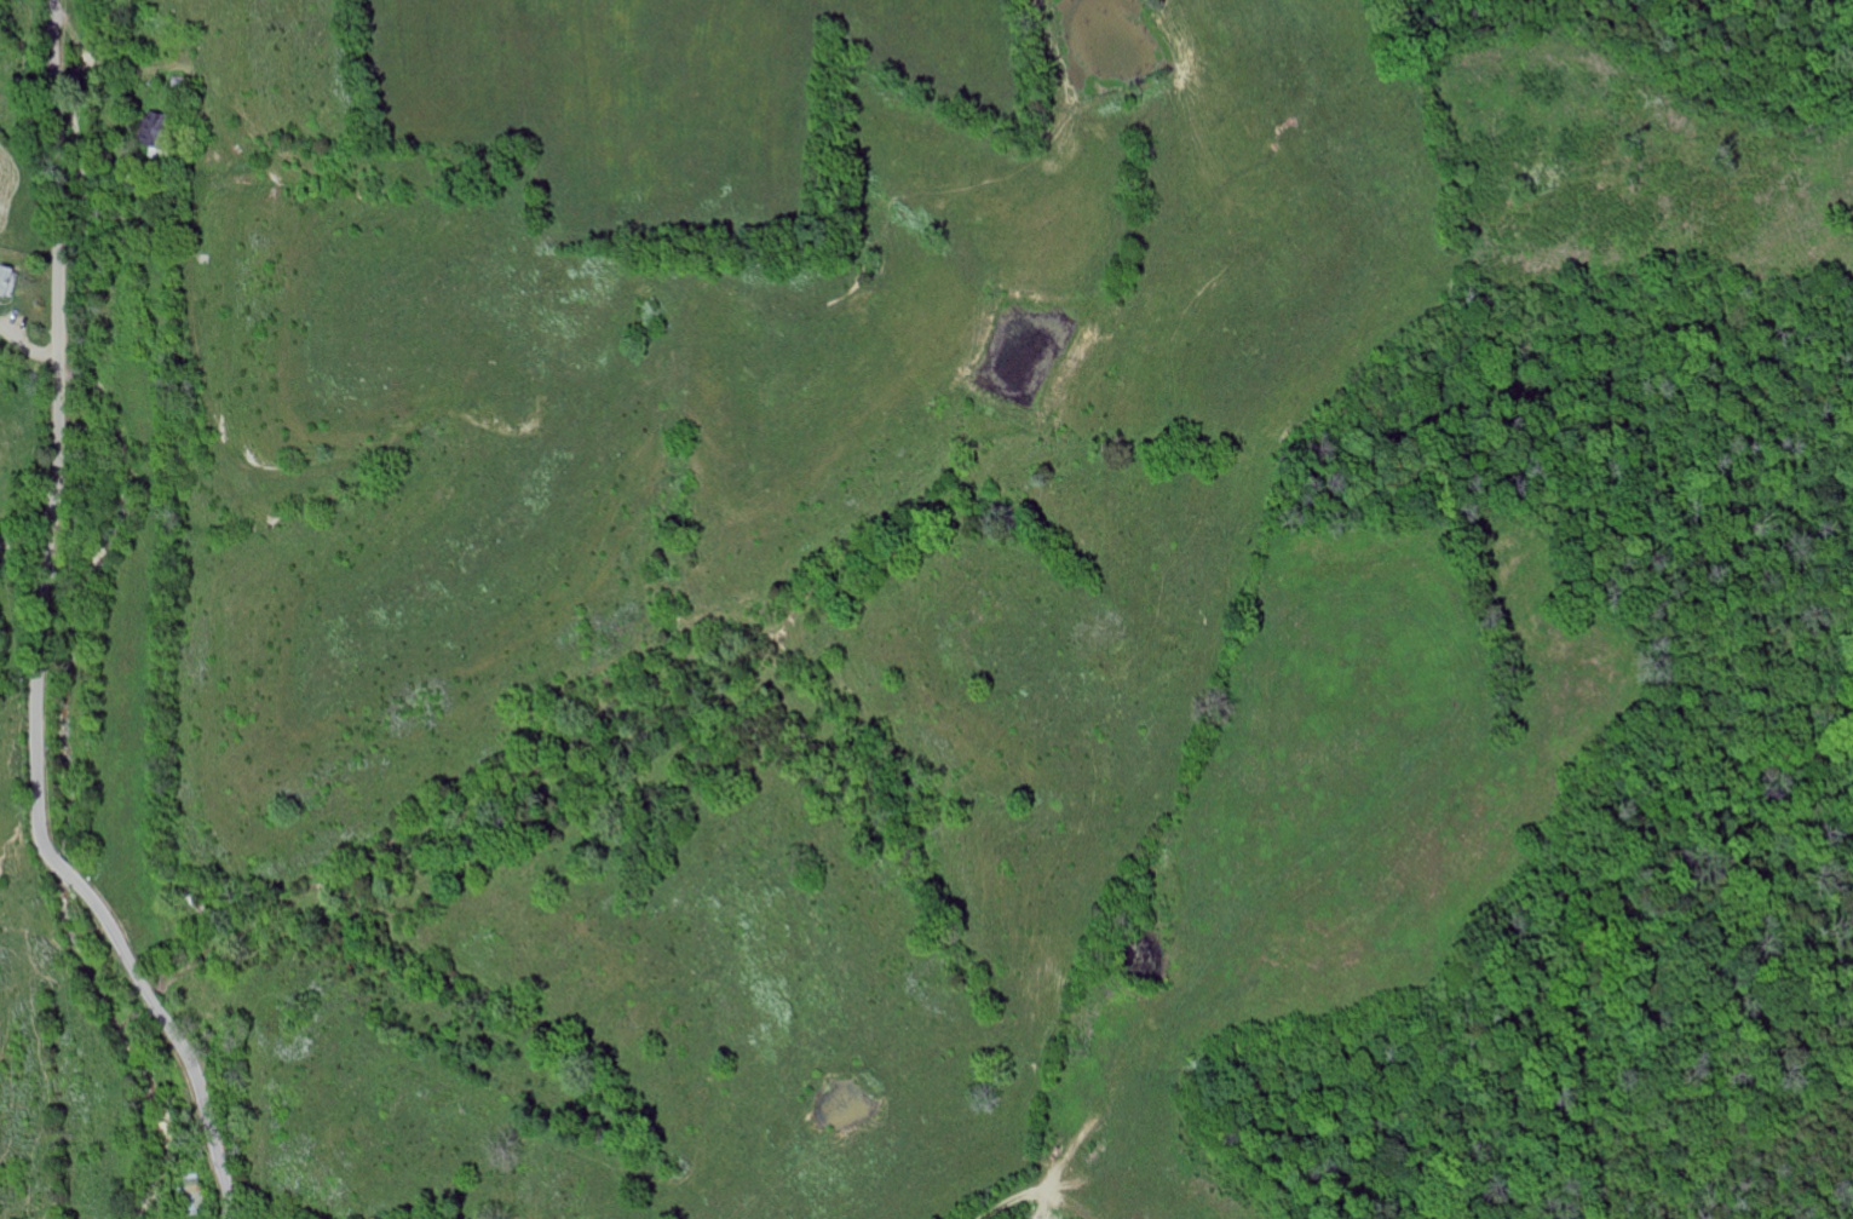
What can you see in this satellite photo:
building: (8, 282)
road: (28, 344)
road: (24, 542)
road: (40, 634)
road: (995, 1166)

